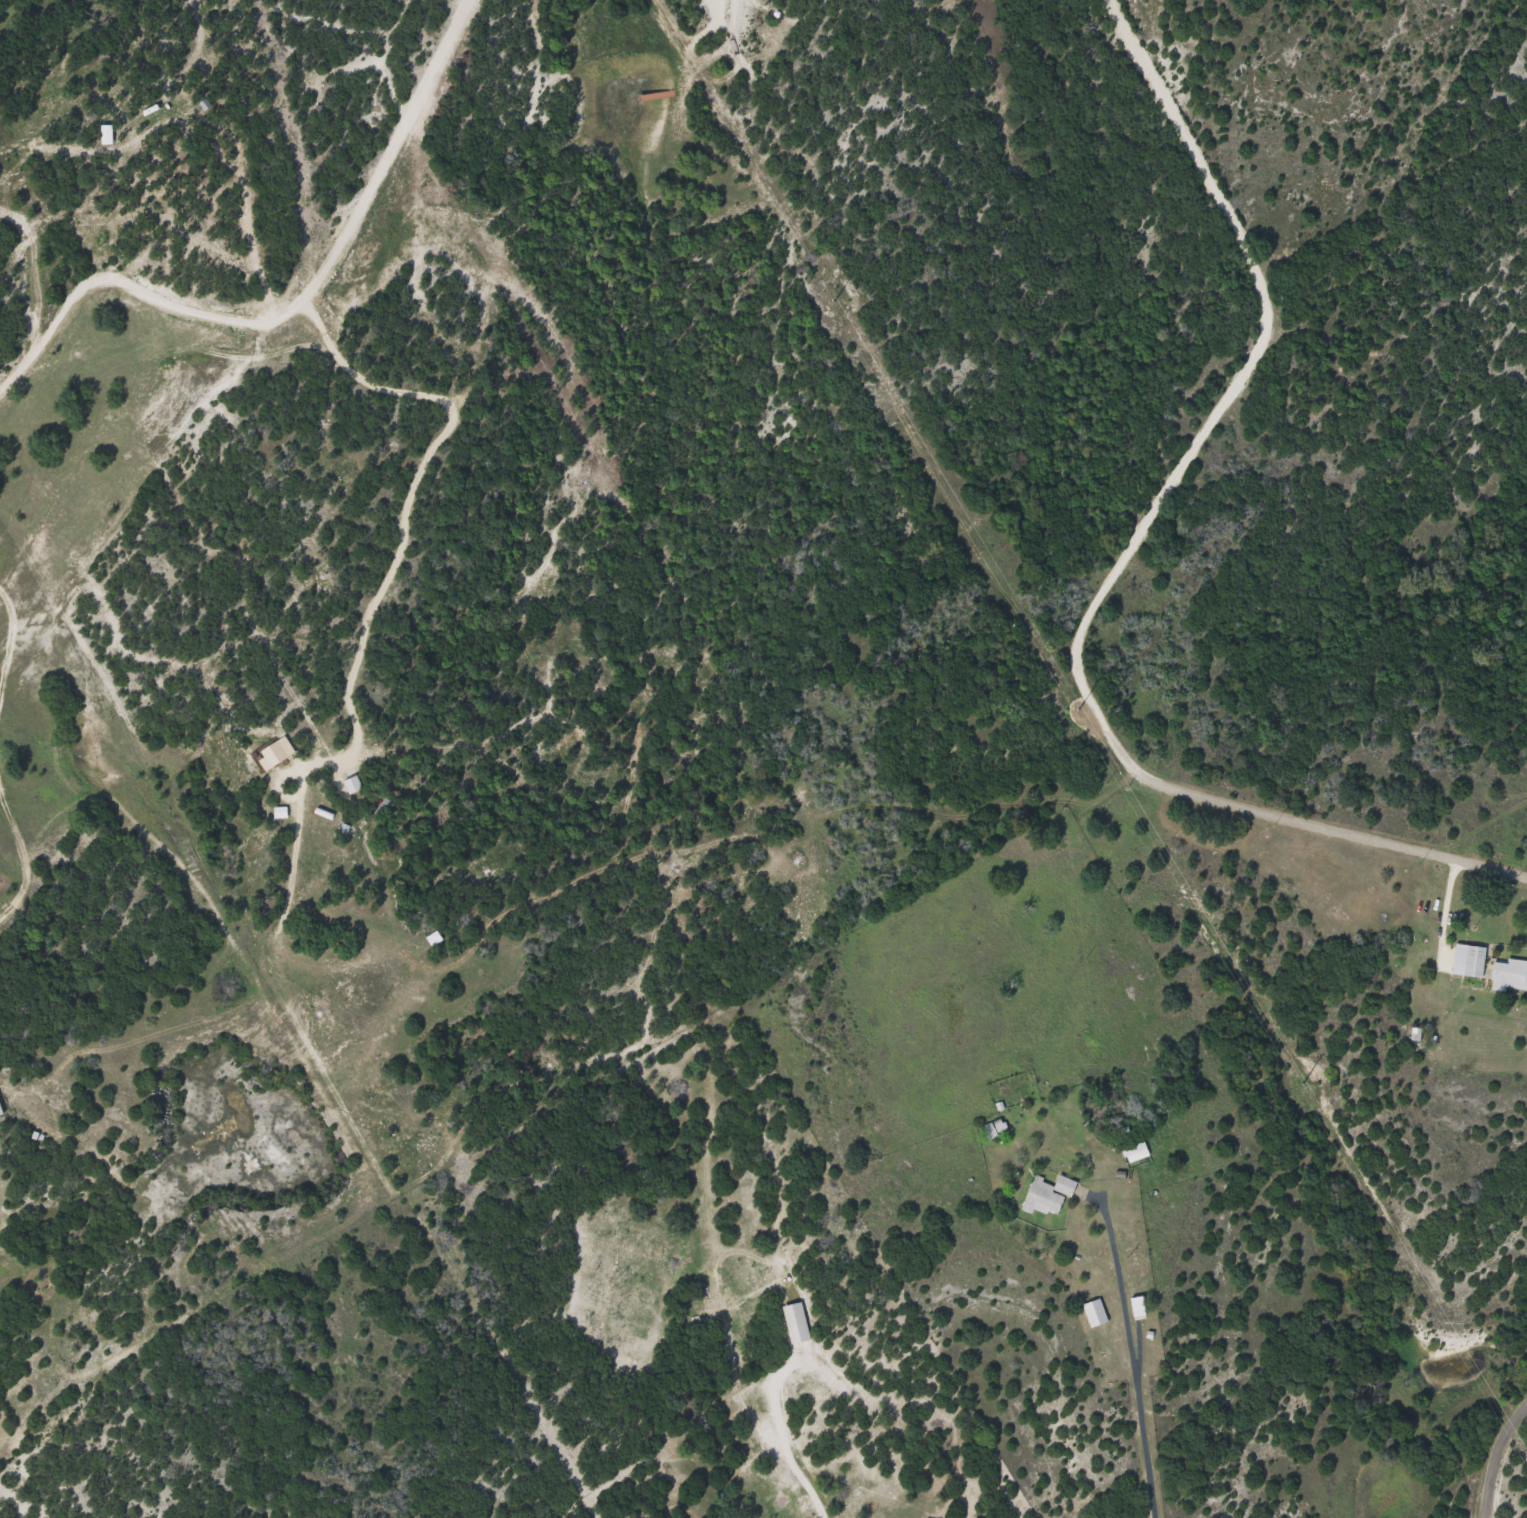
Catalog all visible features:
power tower: (835, 299)
road: (272, 374)
road: (1131, 561)
power tower: (1078, 708)
building: (354, 781)
building: (282, 809)
building: (1470, 957)
building: (1510, 971)
power tower: (1302, 1083)
building: (0, 1112)
building: (1136, 1149)
building: (1050, 1191)
building: (1139, 1304)
building: (1096, 1310)
building: (799, 1320)
road: (1499, 1462)

